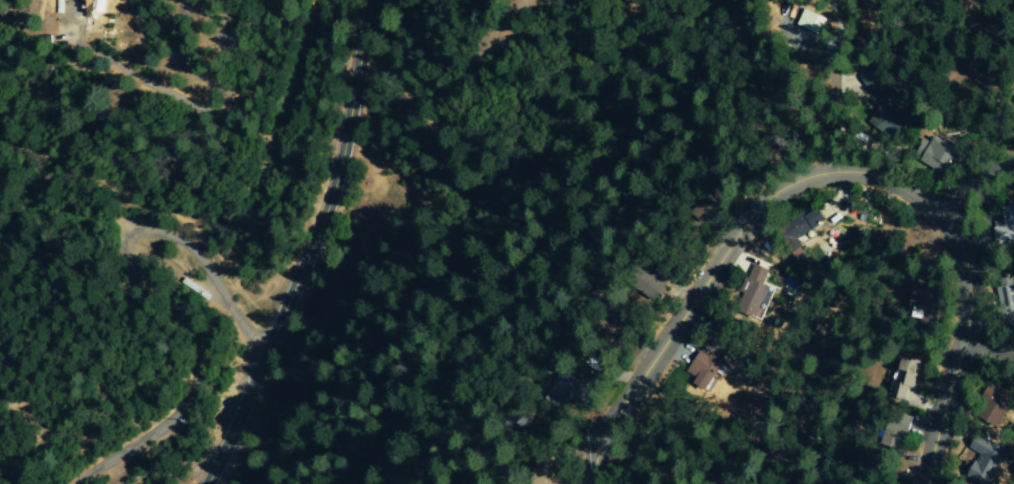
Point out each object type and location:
building: (887, 118)
road: (821, 128)
building: (940, 157)
road: (974, 184)
building: (1009, 218)
building: (806, 225)
road: (307, 248)
road: (722, 259)
building: (654, 288)
road: (164, 291)
building: (756, 292)
building: (924, 300)
road: (961, 346)
road: (988, 351)
building: (705, 368)
building: (906, 377)
building: (565, 388)
building: (1000, 407)
building: (897, 436)
building: (987, 459)
building: (552, 481)

